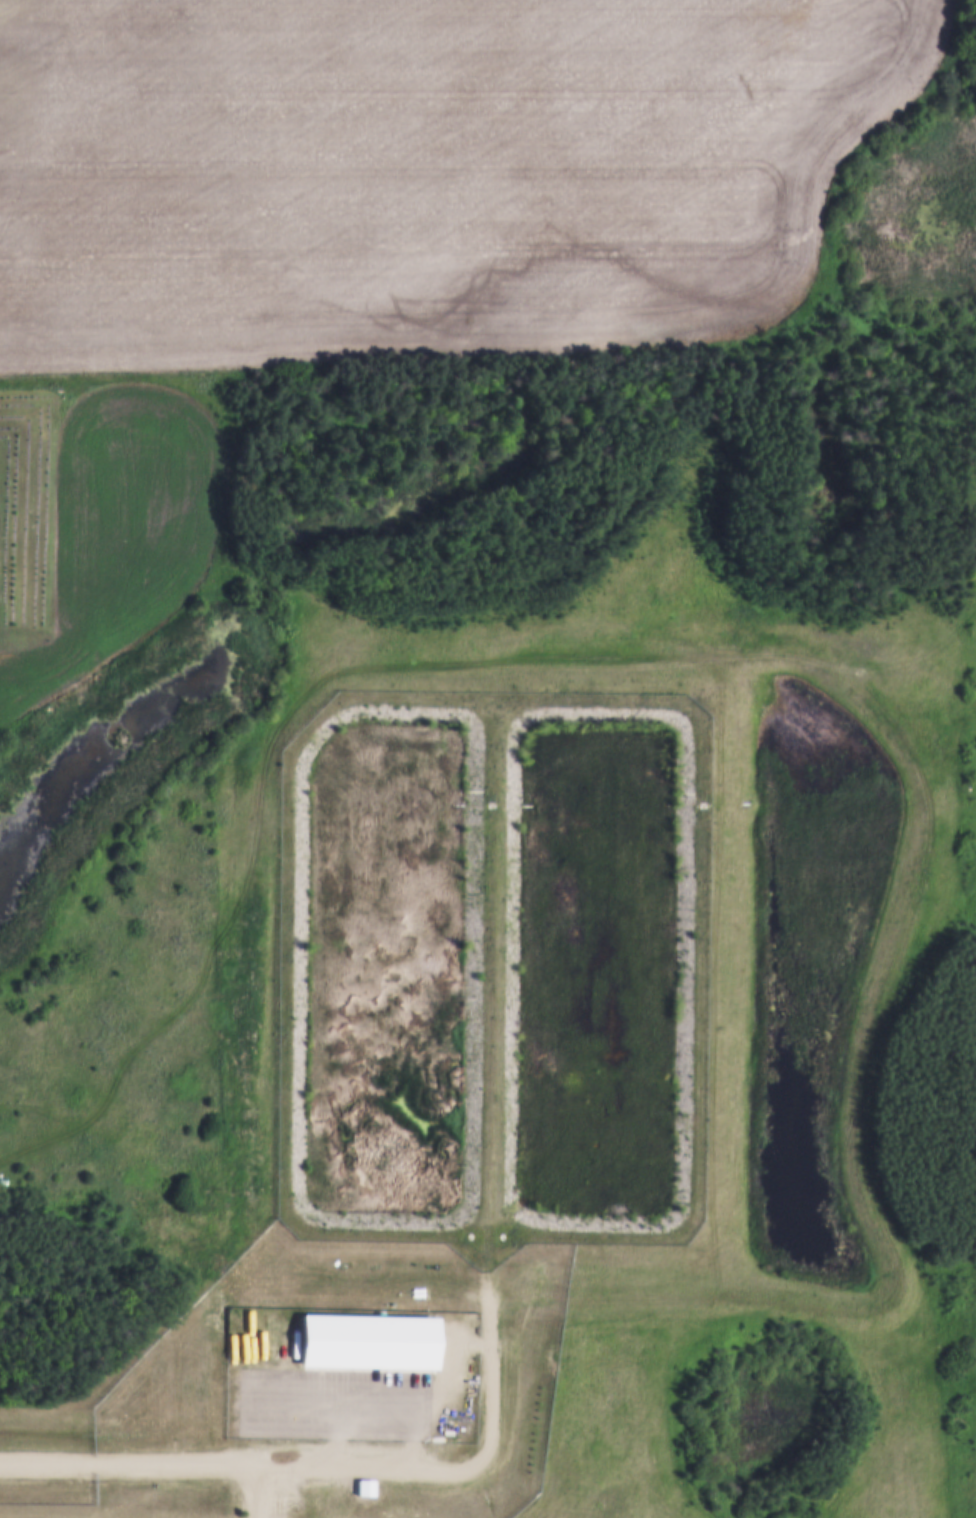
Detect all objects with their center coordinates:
building: (366, 1338)
road: (489, 1401)
road: (207, 1461)
building: (363, 1485)
road: (261, 1490)

